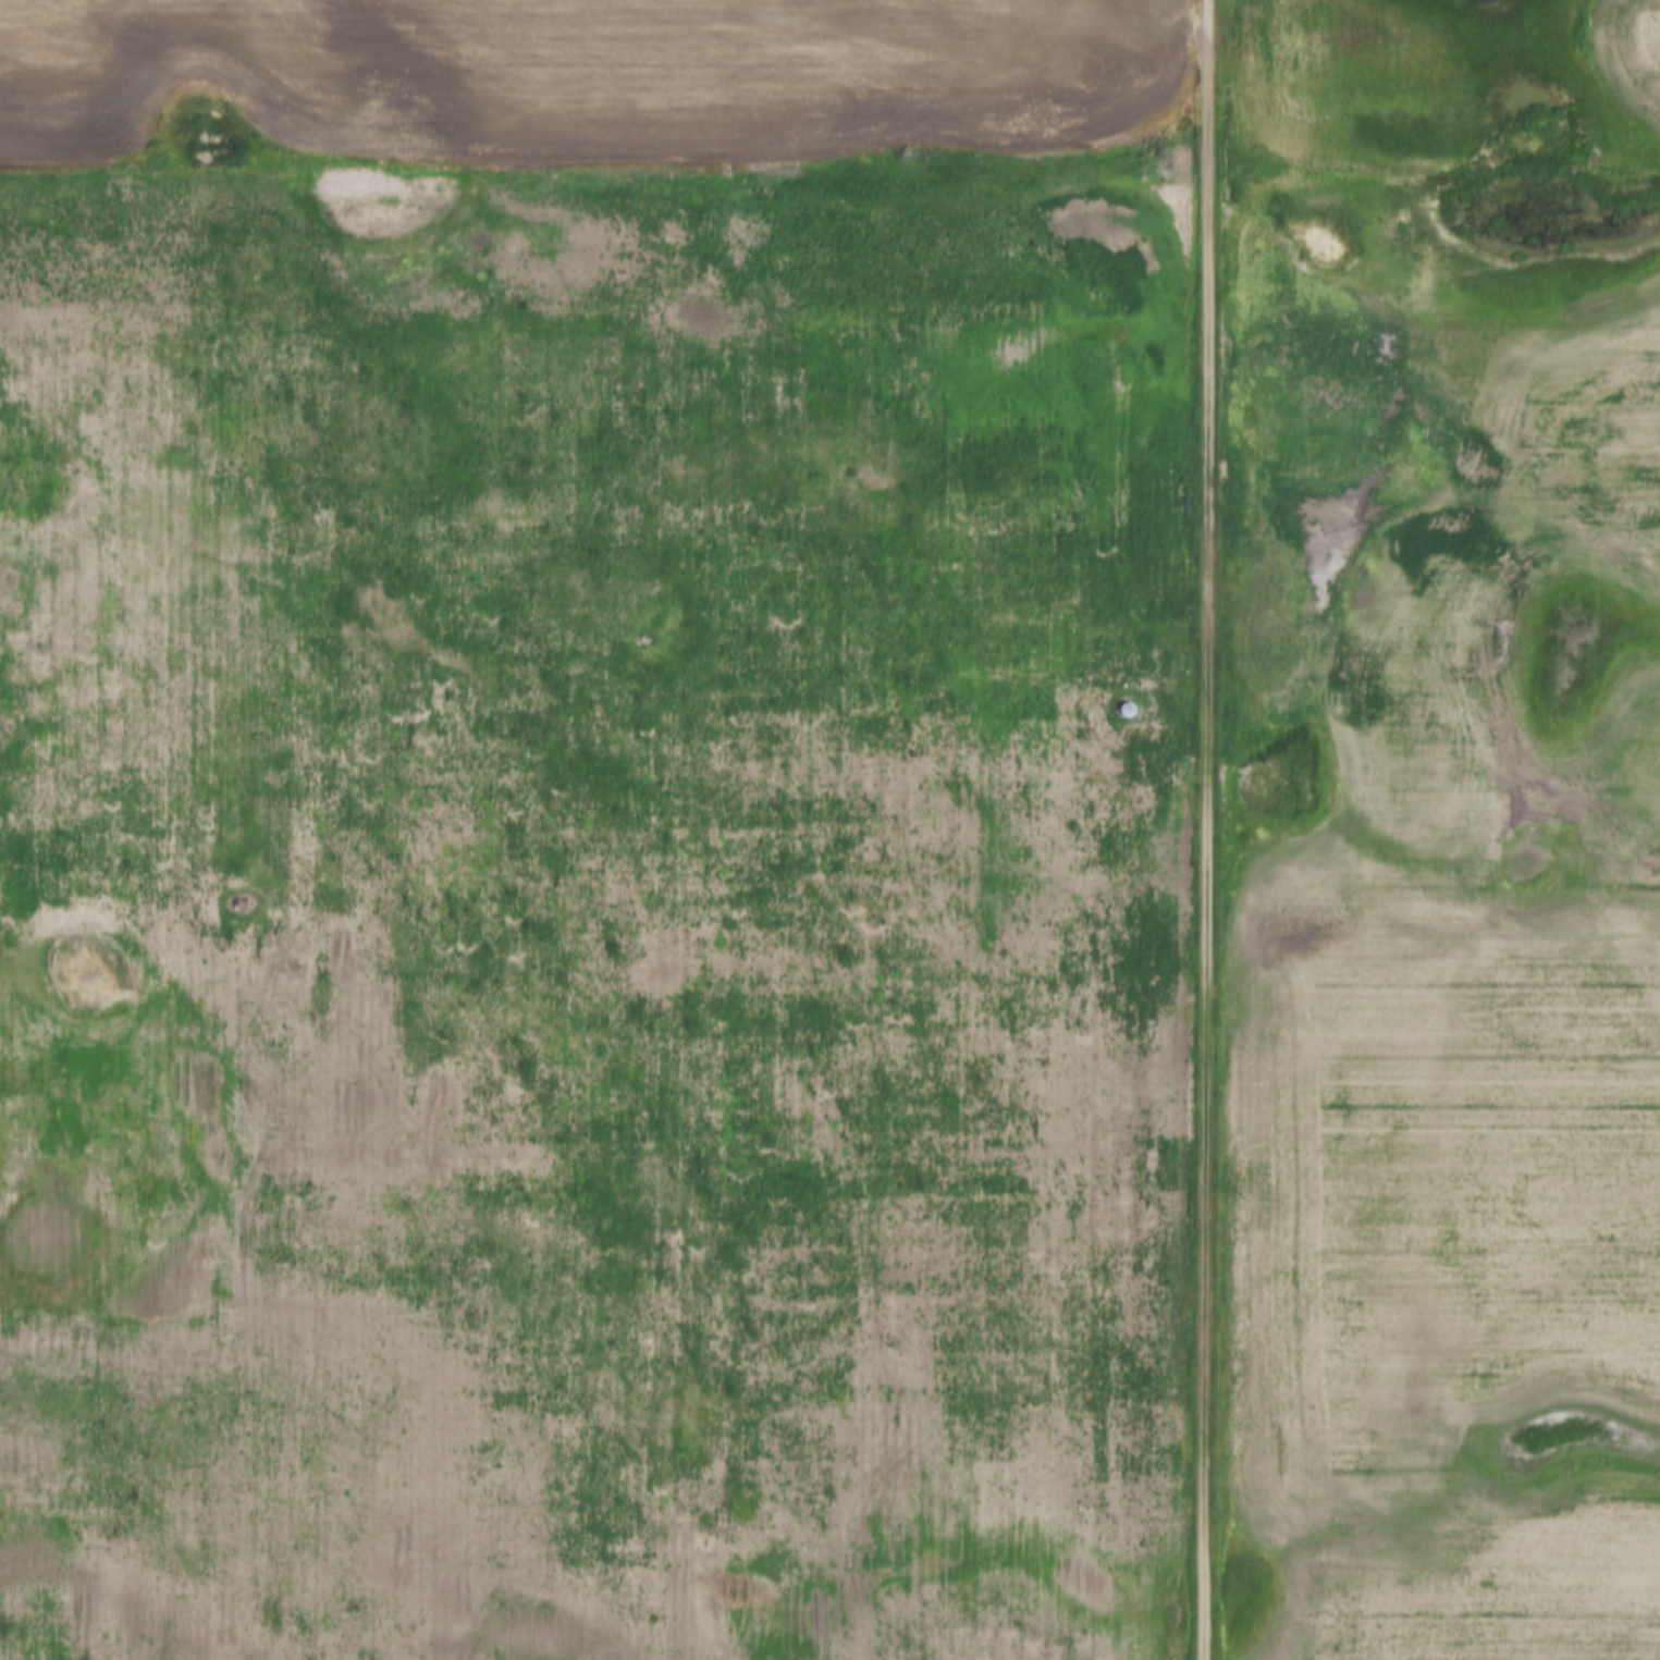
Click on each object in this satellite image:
building: (1126, 711)
road: (1210, 829)

